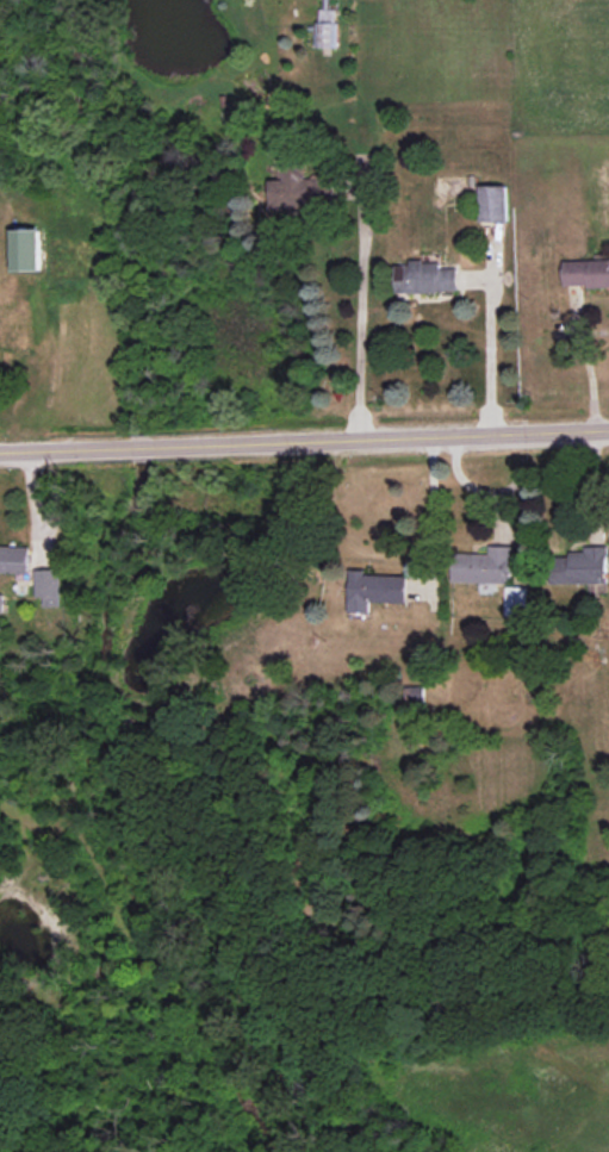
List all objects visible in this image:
building: (328, 27)
building: (300, 188)
building: (493, 203)
building: (26, 249)
building: (586, 273)
building: (424, 278)
road: (360, 318)
road: (489, 355)
road: (589, 363)
road: (304, 438)
road: (434, 511)
building: (14, 559)
building: (484, 566)
building: (583, 566)
building: (49, 586)
building: (374, 590)
building: (516, 600)
building: (1, 603)
building: (415, 693)

